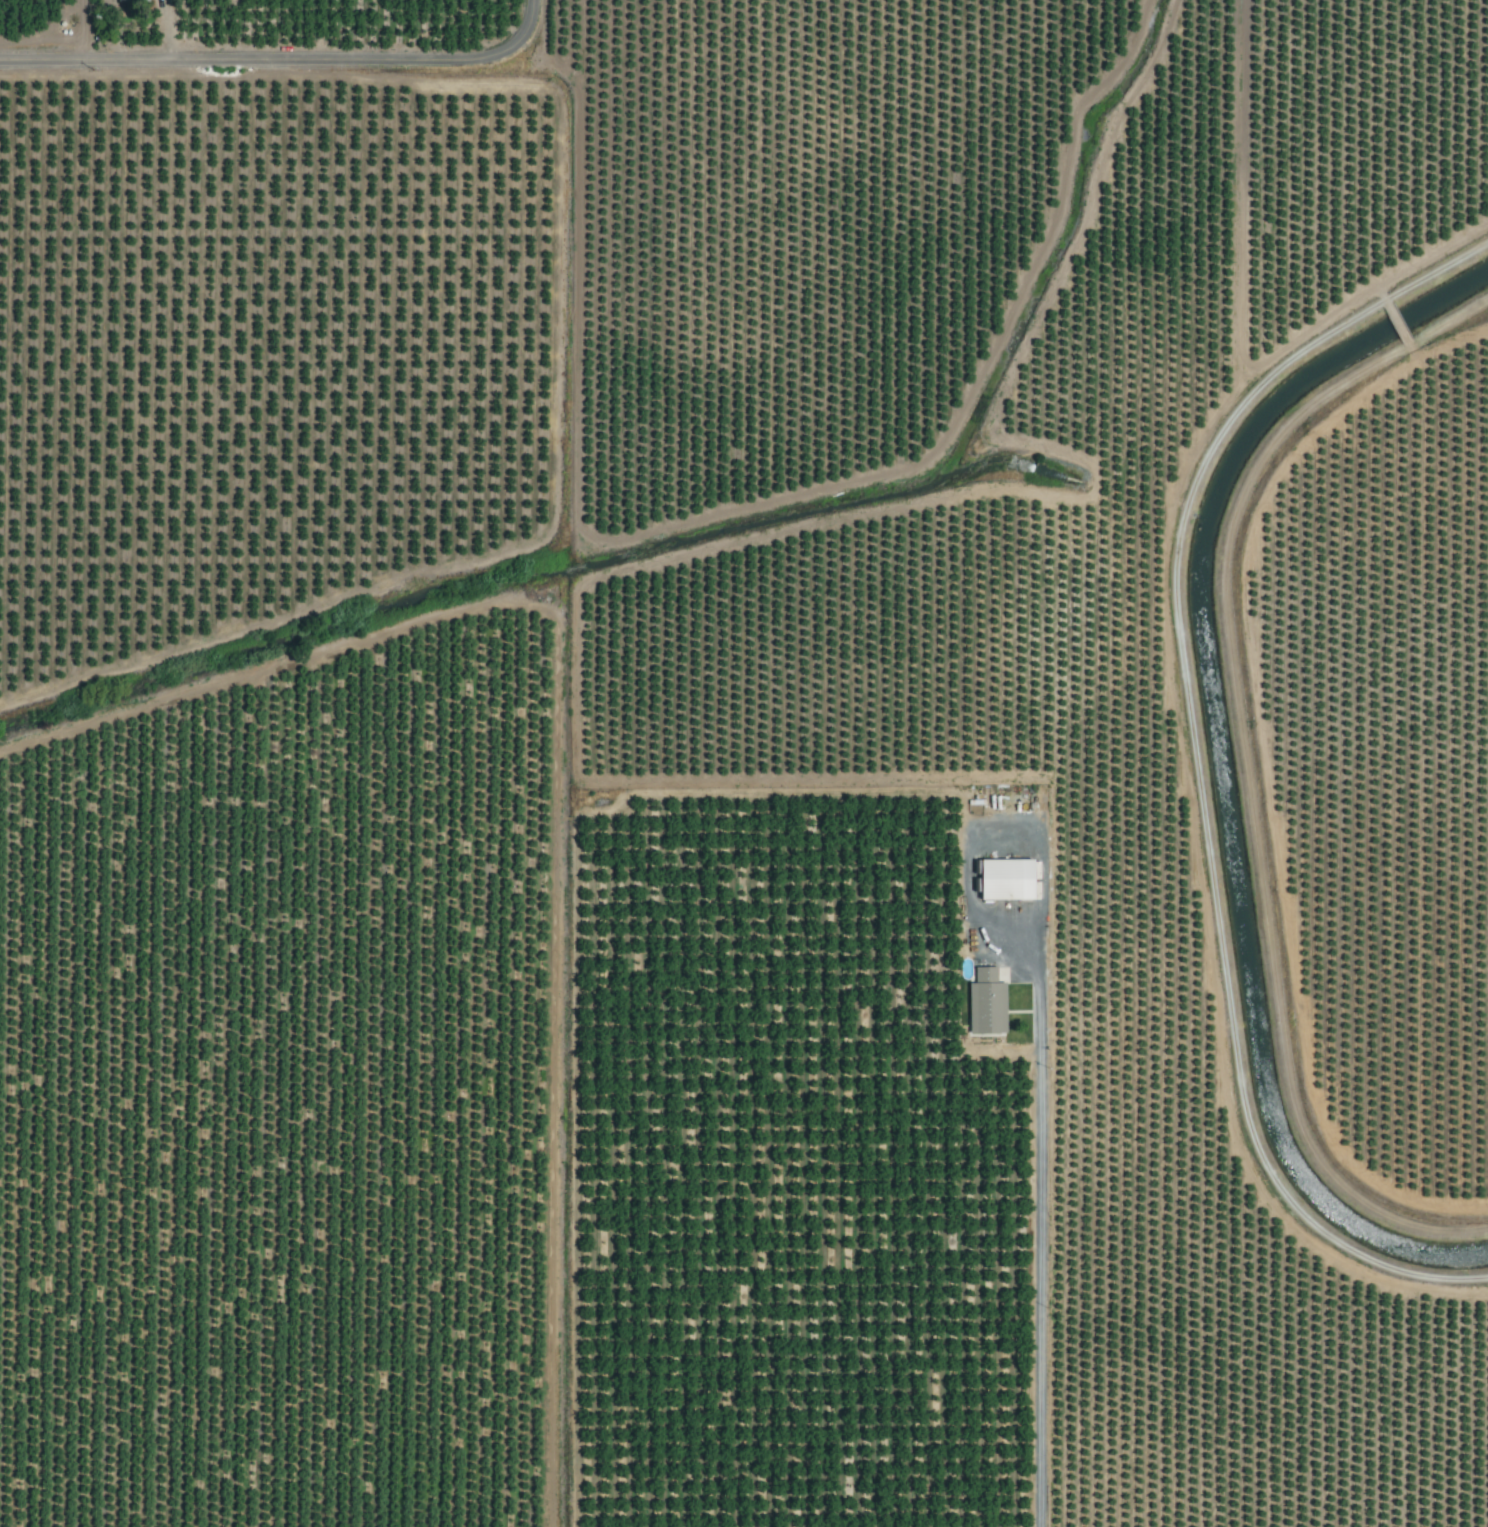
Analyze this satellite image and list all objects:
building: (129, 1)
road: (283, 60)
wastewater plant: (846, 719)
building: (1001, 879)
building: (984, 1004)
road: (1039, 1214)

